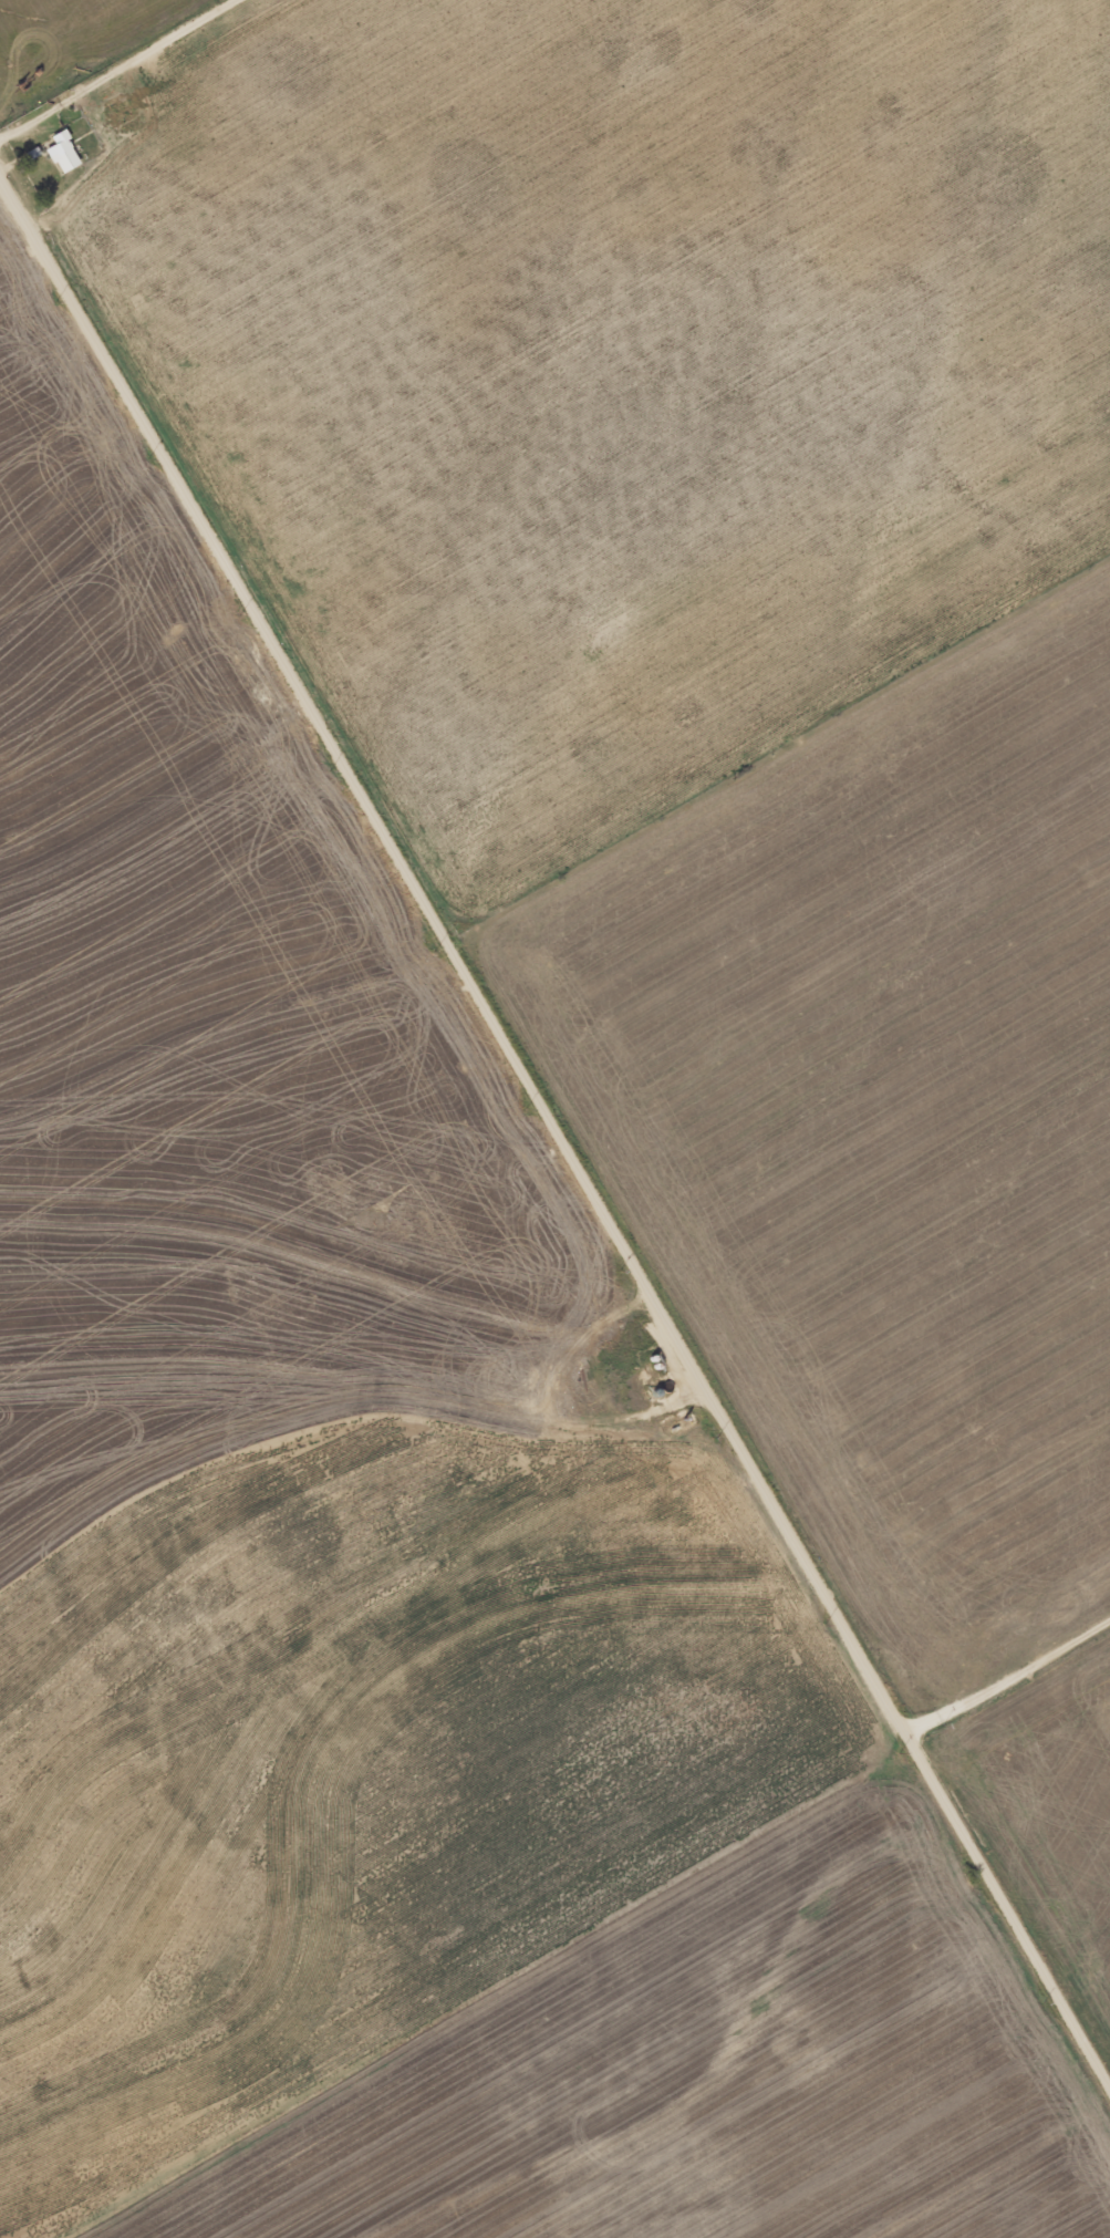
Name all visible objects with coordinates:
road: (116, 68)
road: (455, 953)
road: (331, 1480)
road: (261, 1690)
road: (1009, 1907)

